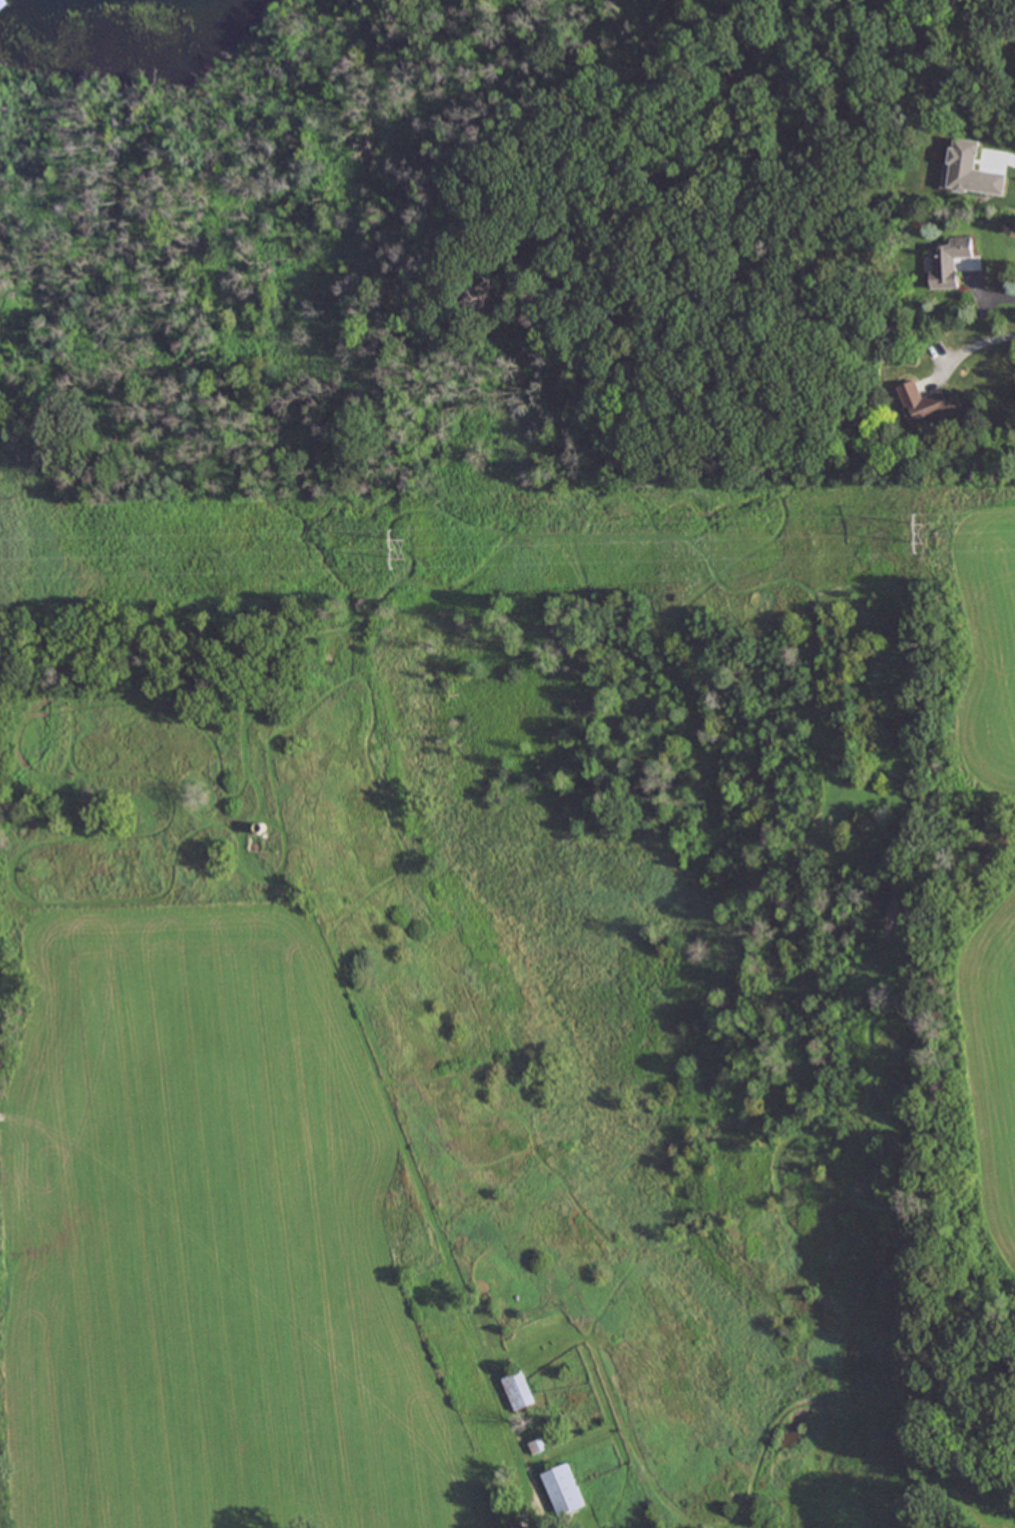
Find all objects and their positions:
building: (970, 170)
building: (948, 261)
road: (967, 345)
building: (924, 403)
power tower: (923, 535)
power tower: (408, 550)
building: (518, 1390)
building: (563, 1489)

